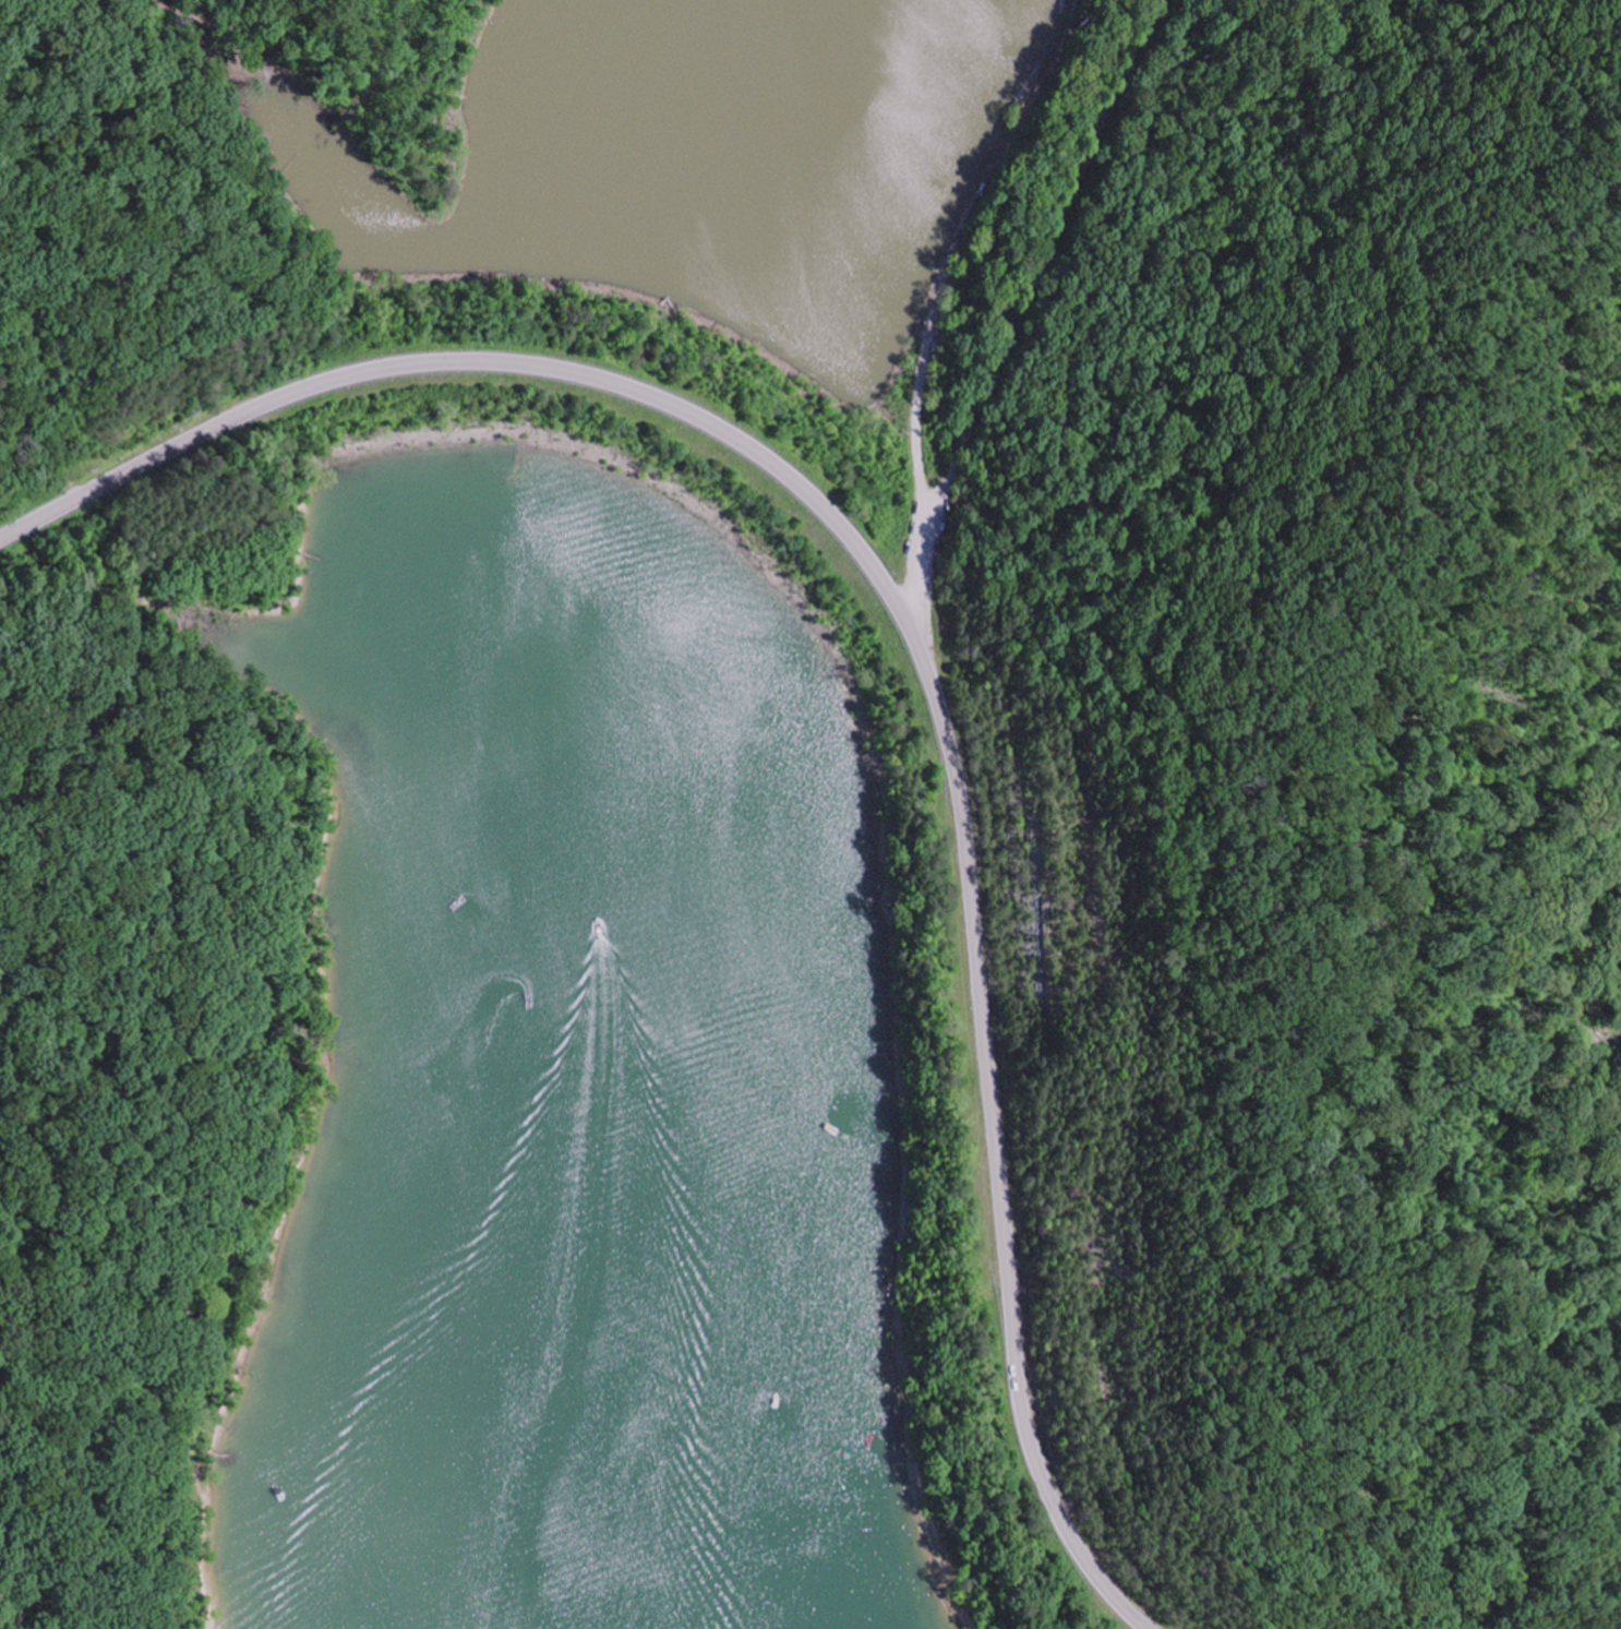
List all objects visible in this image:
road: (962, 261)
road: (1021, 315)
parking lot: (925, 550)
road: (911, 631)

